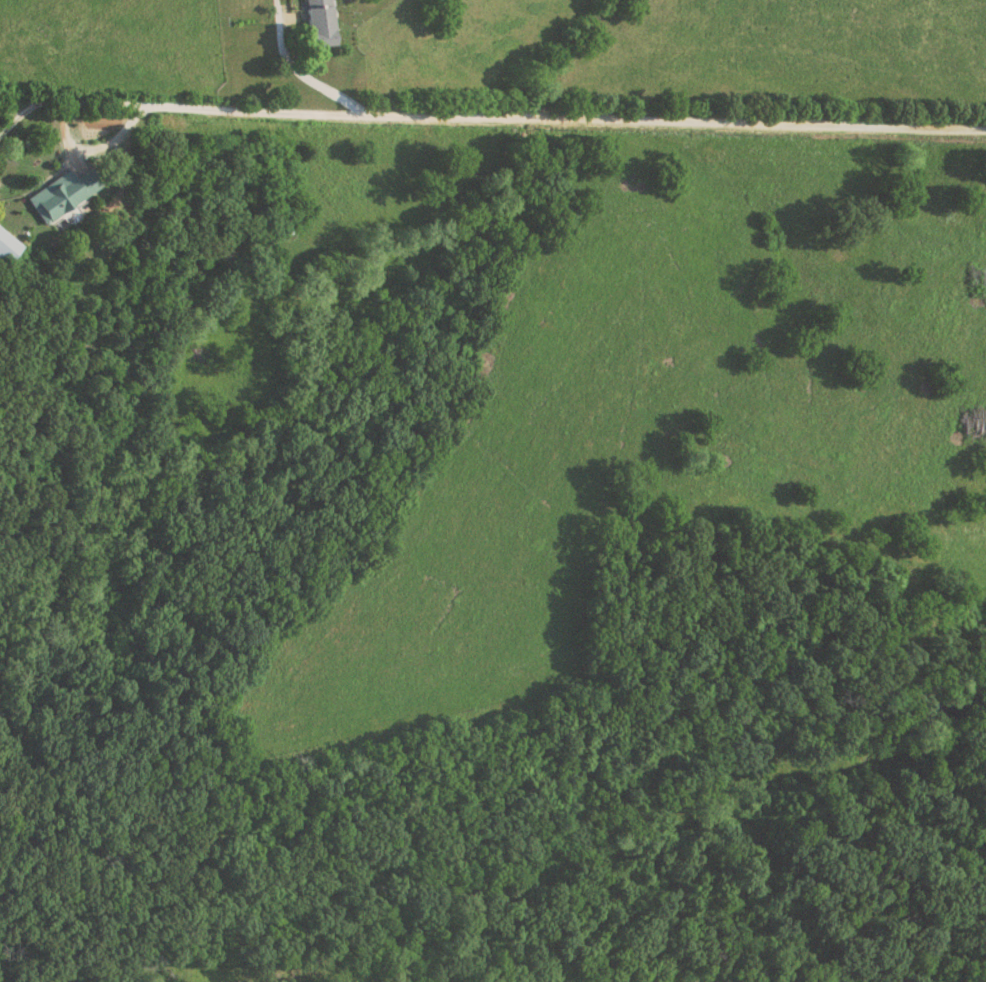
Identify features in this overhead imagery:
building: (322, 34)
road: (297, 69)
road: (492, 121)
building: (66, 195)
building: (9, 248)

